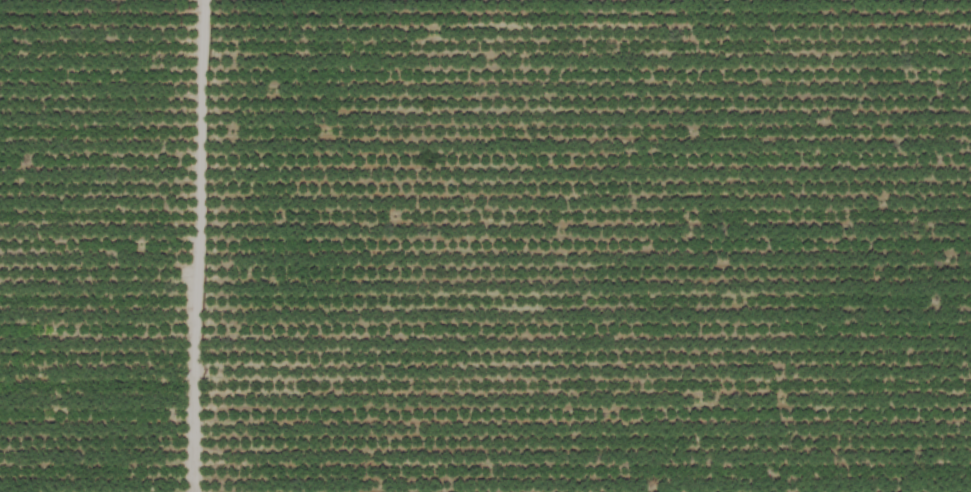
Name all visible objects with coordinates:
crop: (485, 246)

